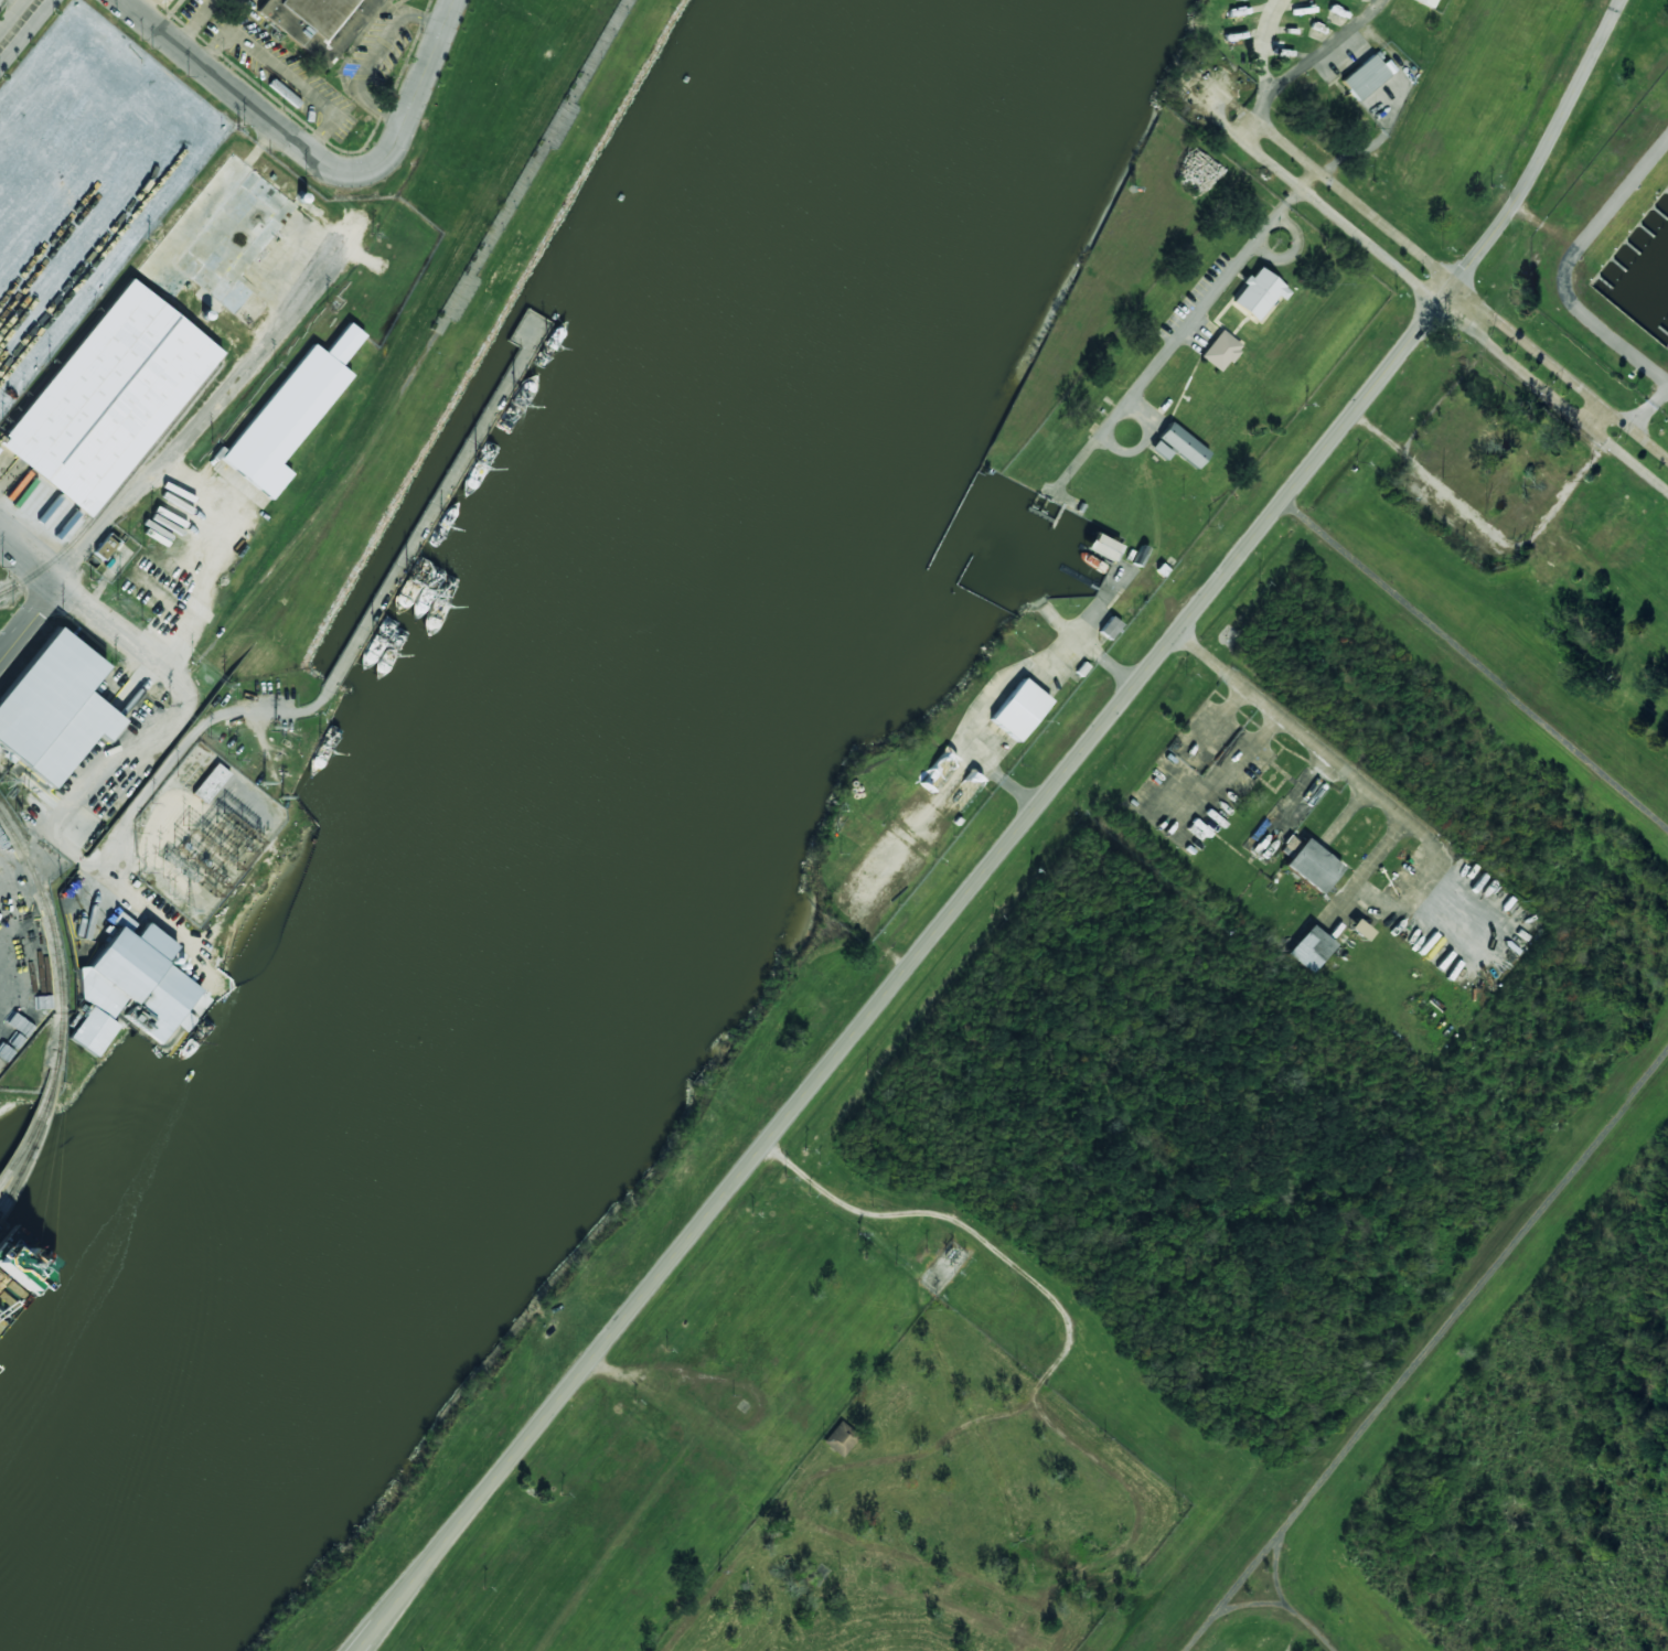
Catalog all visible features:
building: (372, 2)
building: (1426, 2)
road: (9, 11)
building: (306, 20)
road: (195, 22)
road: (25, 32)
road: (1337, 49)
road: (1274, 57)
road: (373, 58)
road: (285, 75)
building: (1366, 76)
road: (1210, 88)
road: (416, 89)
road: (239, 95)
road: (1550, 141)
building: (1257, 293)
building: (1220, 351)
road: (1645, 389)
building: (107, 399)
road: (216, 403)
building: (290, 414)
building: (1181, 444)
building: (1158, 450)
railway: (124, 481)
building: (105, 546)
road: (29, 557)
railway: (9, 590)
road: (29, 618)
building: (1109, 628)
road: (127, 635)
road: (1475, 664)
building: (53, 709)
building: (1018, 709)
building: (937, 772)
building: (210, 783)
building: (963, 792)
building: (1307, 864)
railway: (55, 940)
building: (1309, 948)
road: (909, 963)
building: (129, 987)
railway: (56, 1061)
railway: (32, 1130)
railway: (33, 1143)
railway: (14, 1175)
road: (1424, 1353)
building: (840, 1439)

